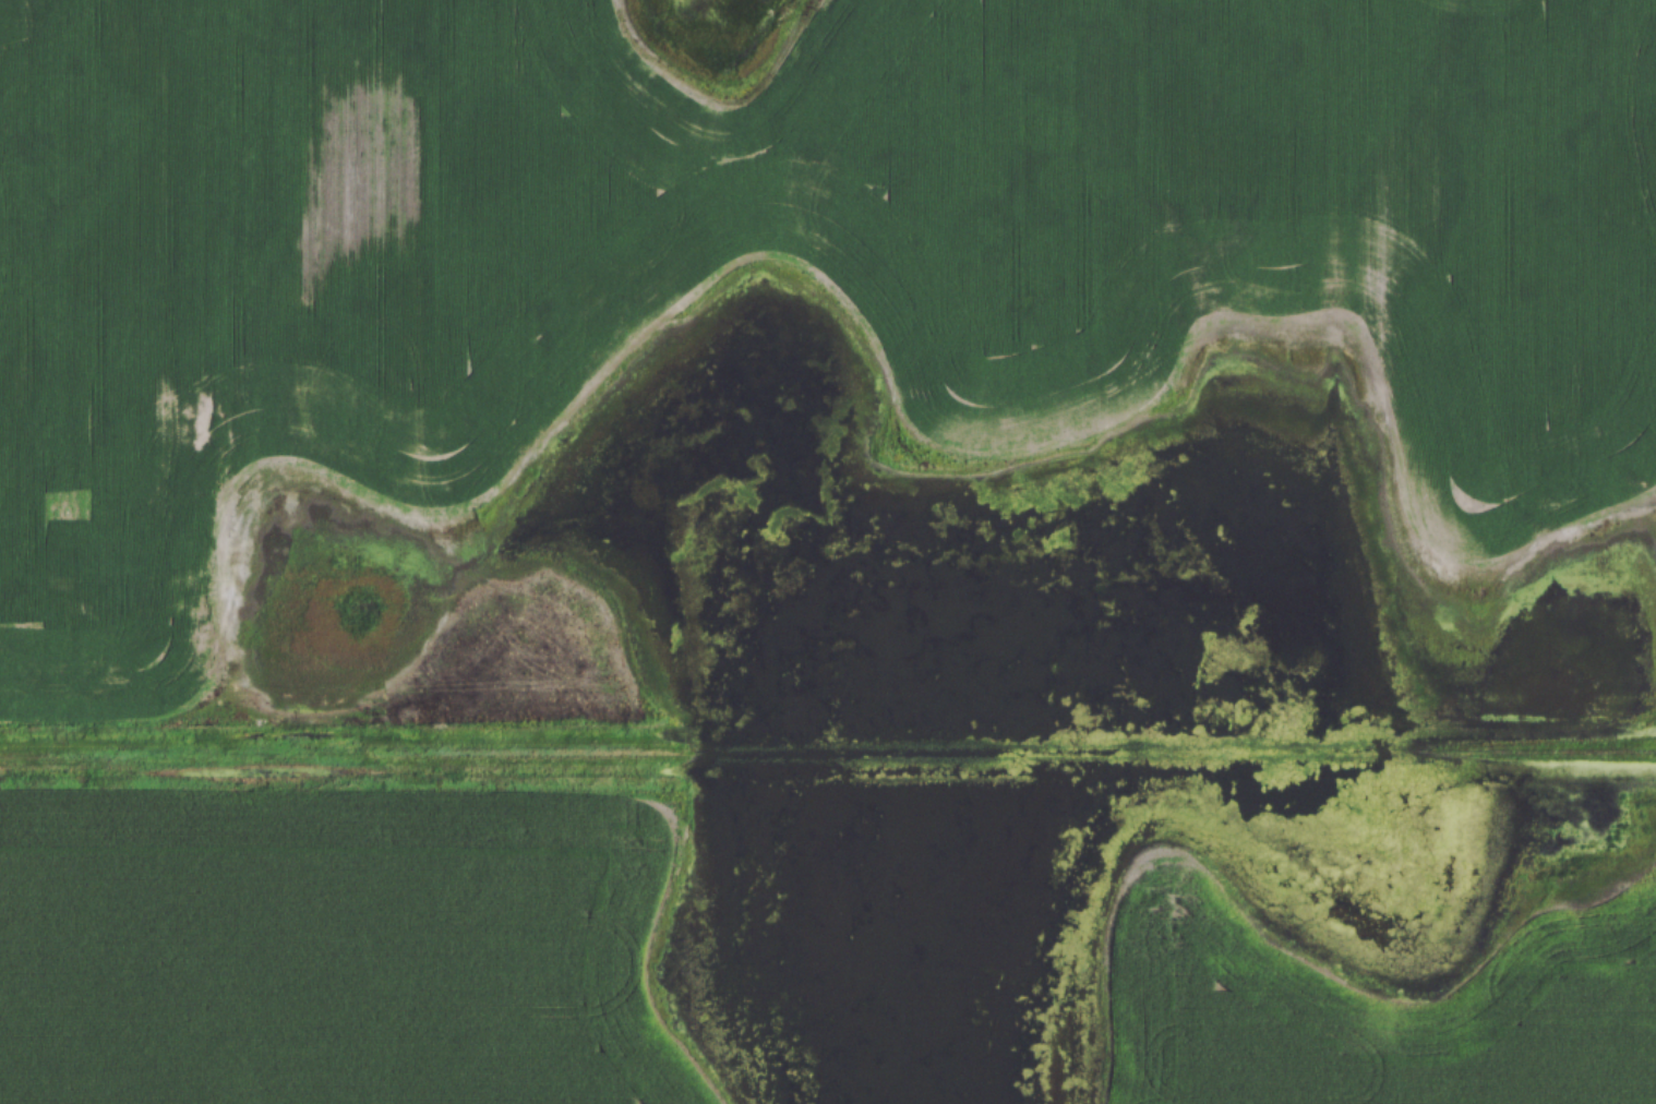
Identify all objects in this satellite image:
road: (828, 761)

